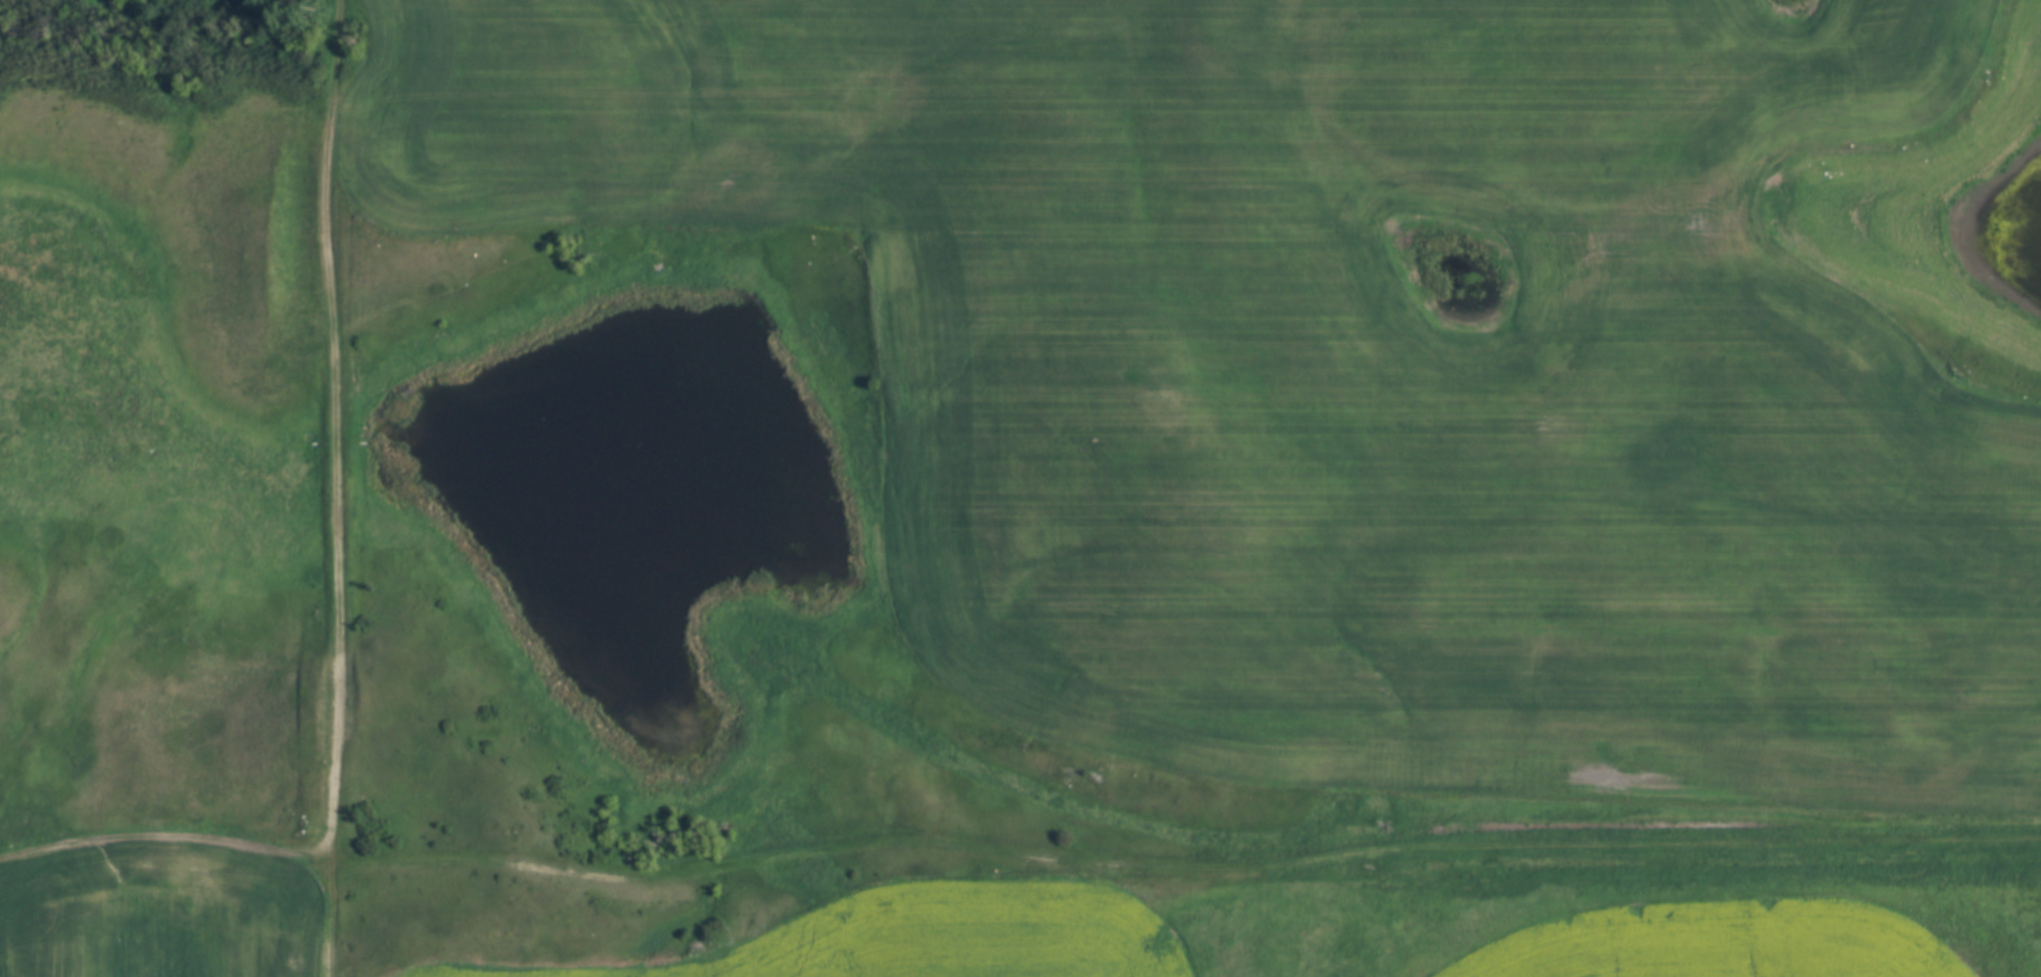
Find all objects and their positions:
road: (330, 72)
wind turbine: (1031, 93)
road: (336, 480)
road: (1182, 869)

